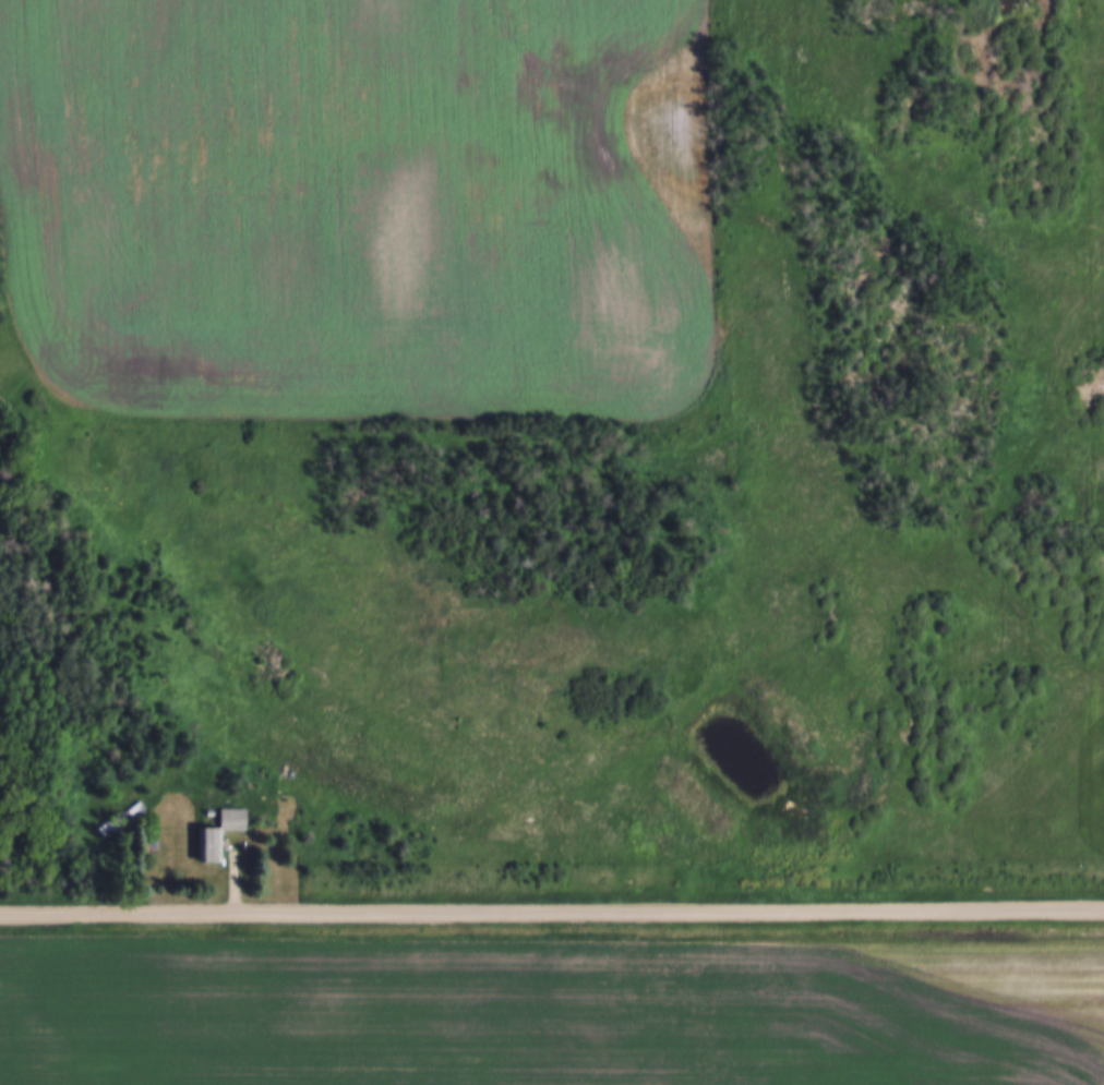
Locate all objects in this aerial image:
building: (230, 817)
building: (117, 818)
building: (207, 845)
road: (551, 912)

